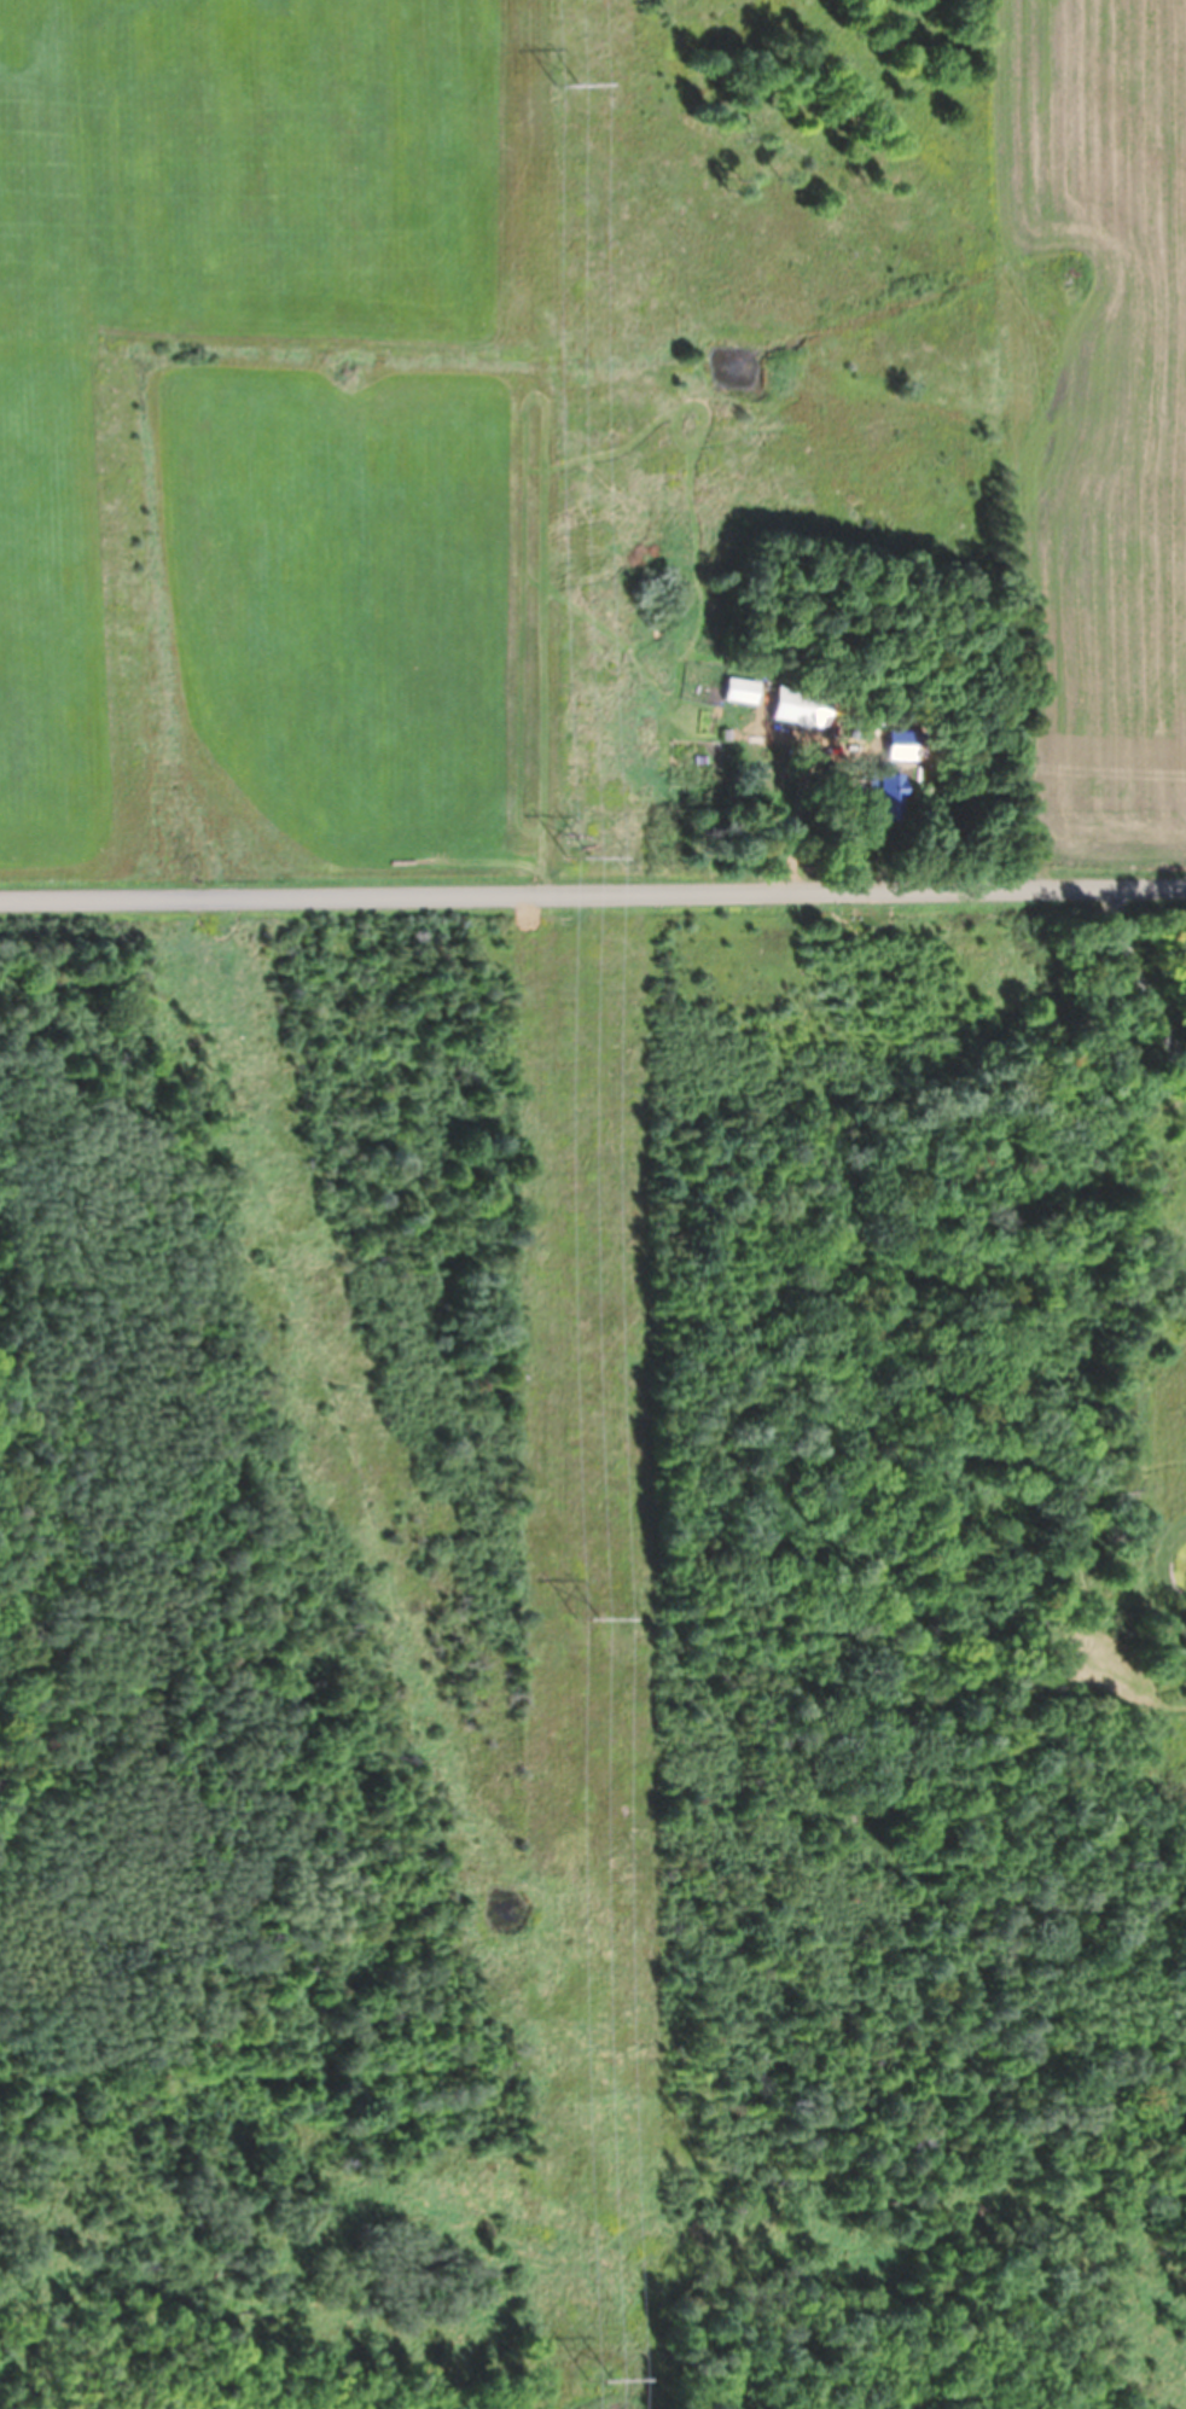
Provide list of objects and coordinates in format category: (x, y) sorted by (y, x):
power tower: (566, 83)
building: (738, 691)
building: (791, 708)
building: (888, 785)
power tower: (576, 857)
road: (592, 894)
road: (1155, 979)
power tower: (586, 1619)
power tower: (595, 2380)

